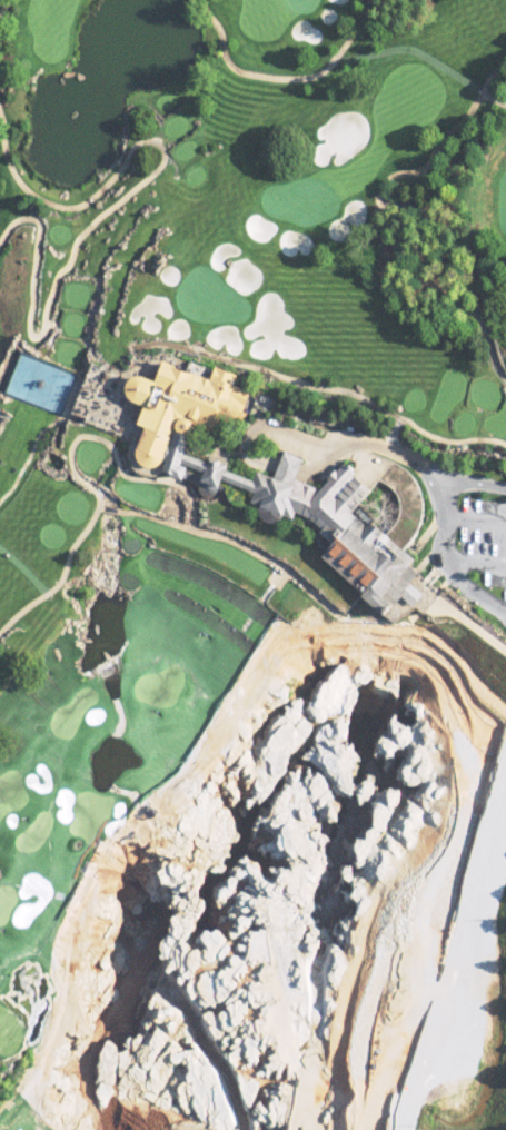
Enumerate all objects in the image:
road: (1, 6)
road: (279, 76)
road: (394, 202)
road: (112, 205)
building: (318, 279)
building: (374, 303)
building: (205, 360)
road: (323, 387)
building: (187, 406)
road: (267, 433)
road: (111, 448)
road: (403, 460)
road: (323, 464)
road: (285, 475)
road: (109, 508)
building: (319, 516)
road: (446, 538)
road: (235, 542)
park: (159, 553)
road: (60, 577)
road: (463, 617)
quarry: (288, 878)

